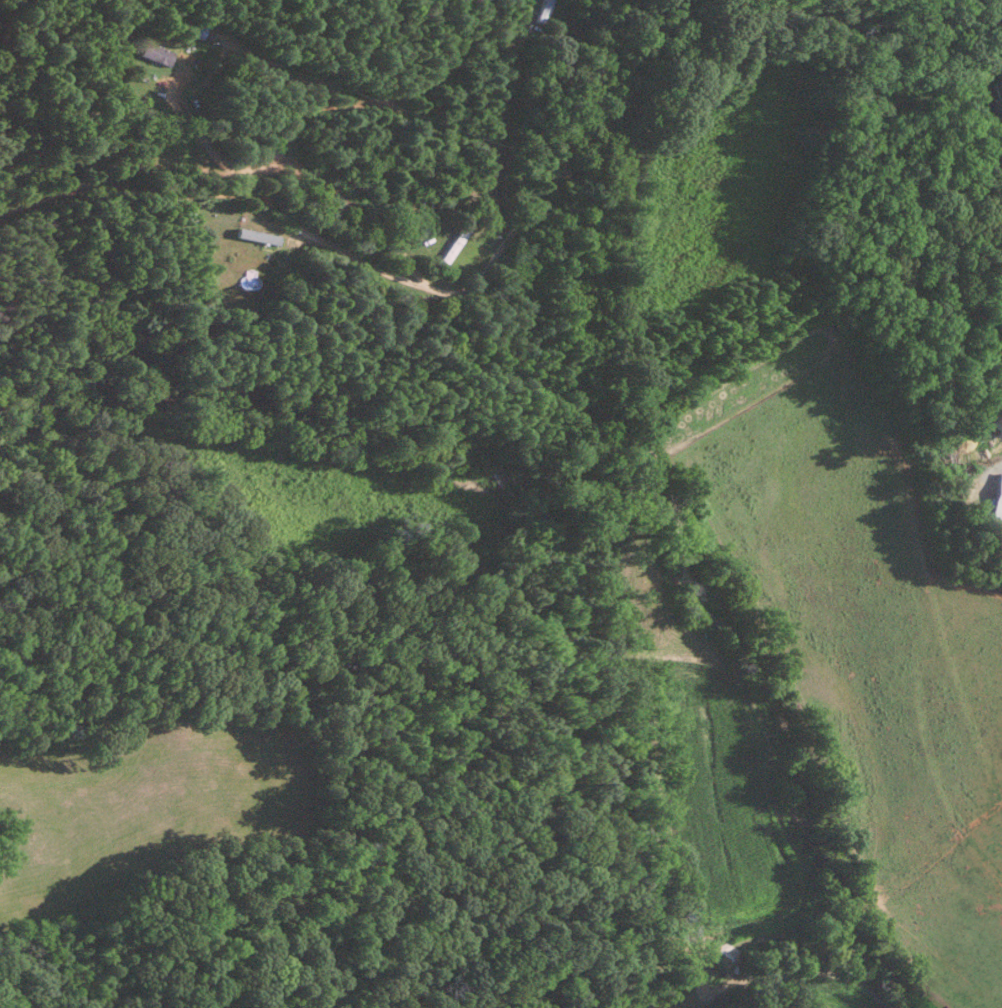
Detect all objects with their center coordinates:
road: (1001, 13)
building: (154, 52)
building: (997, 92)
building: (255, 235)
road: (386, 275)
building: (995, 508)

